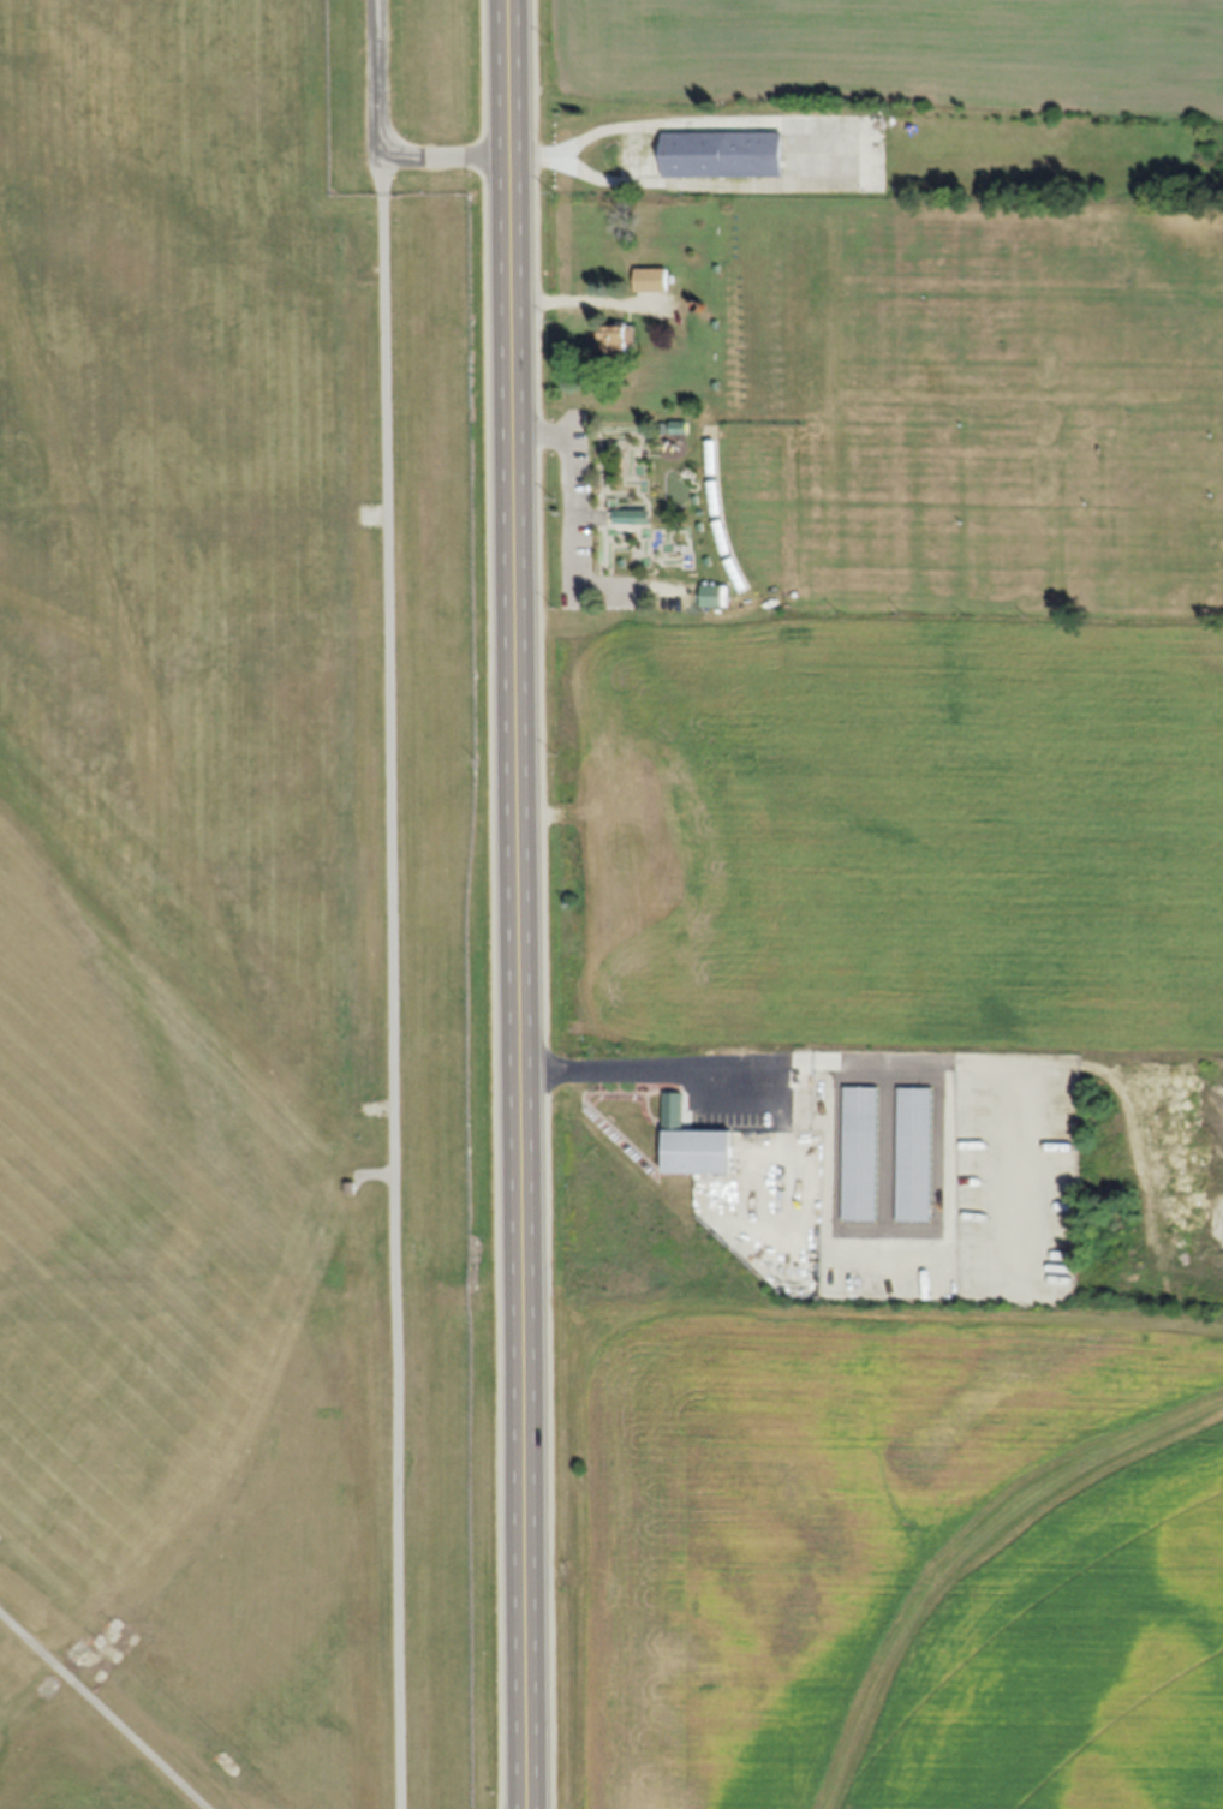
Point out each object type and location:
crop: (882, 54)
building: (720, 153)
building: (651, 280)
building: (618, 339)
building: (709, 458)
building: (712, 498)
building: (631, 517)
road: (389, 903)
road: (530, 903)
airport: (246, 907)
road: (853, 1057)
road: (652, 1067)
road: (782, 1150)
building: (690, 1152)
building: (857, 1152)
building: (911, 1153)
building: (351, 1187)
crop: (883, 1557)
road: (103, 1709)

